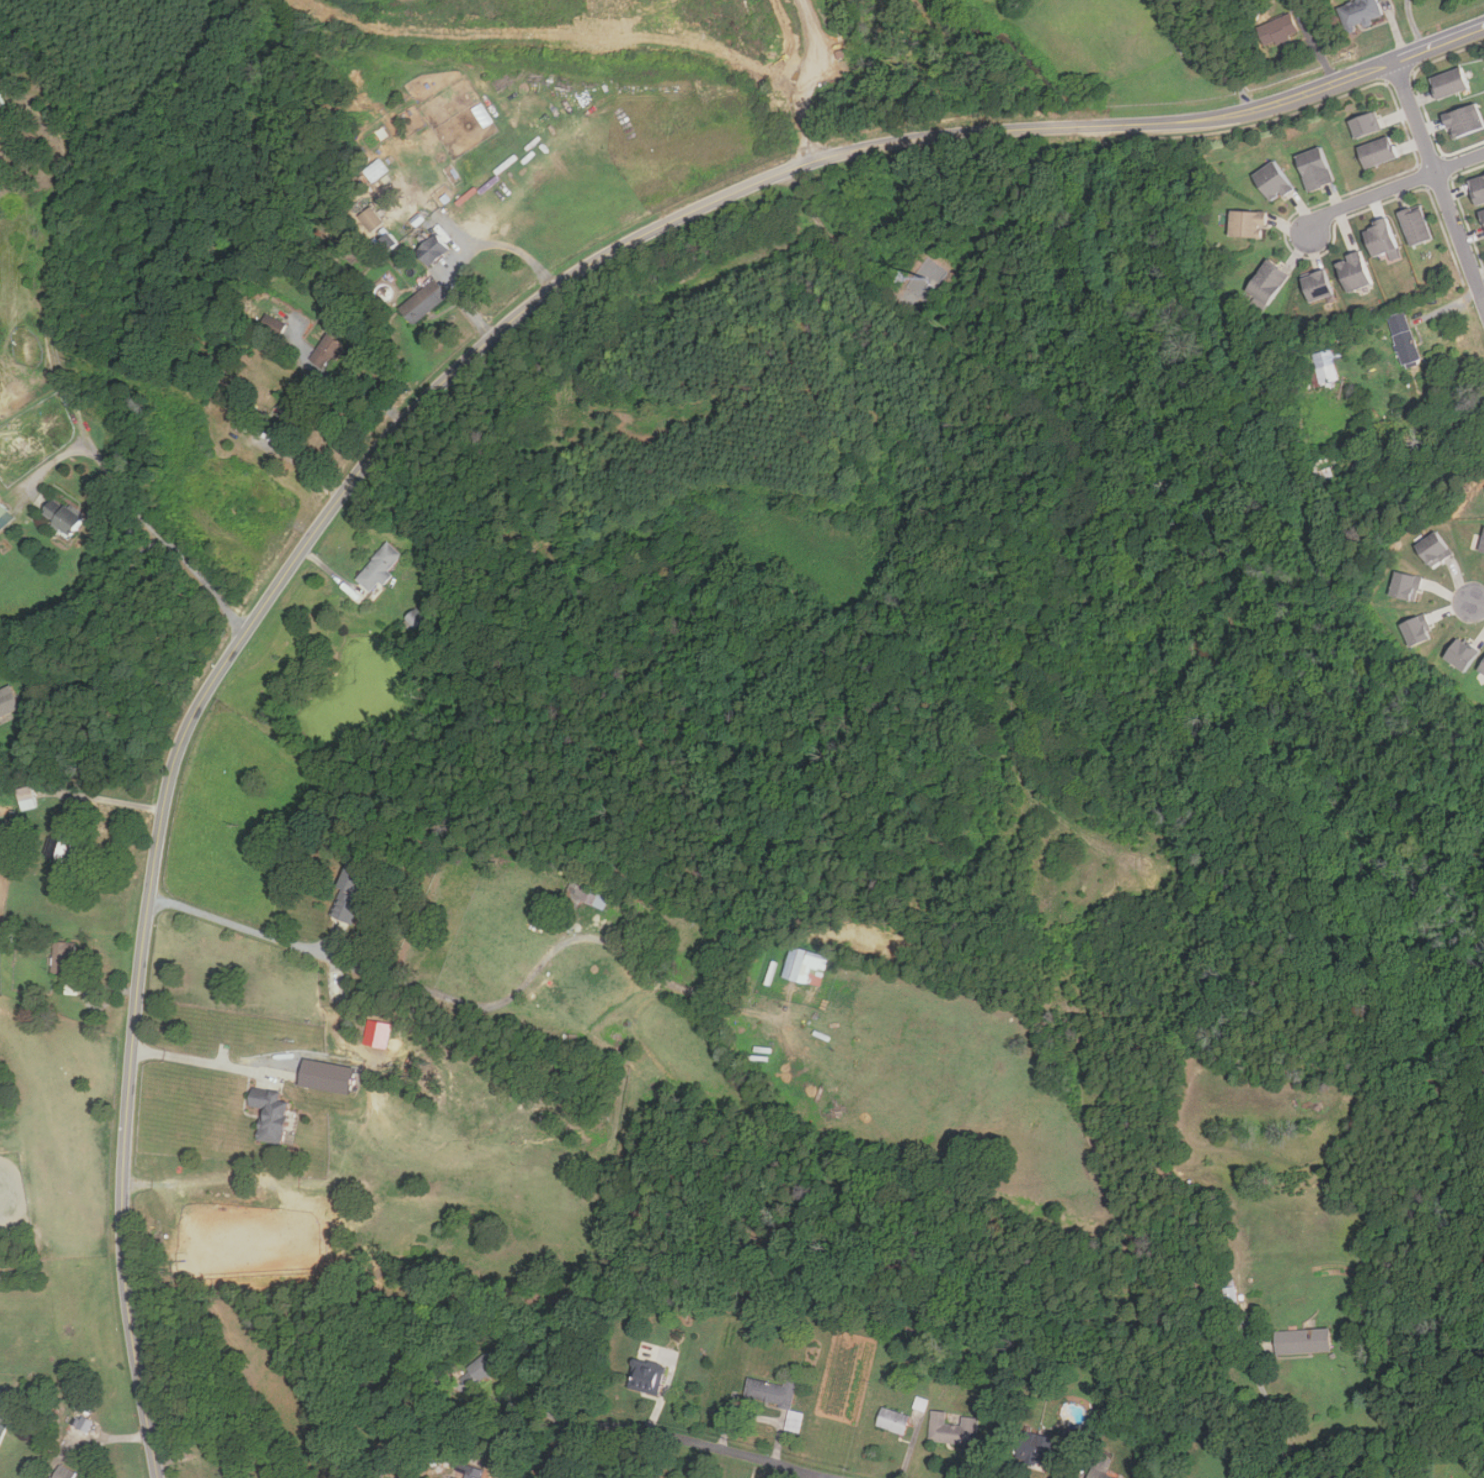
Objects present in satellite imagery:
building: (1360, 13)
building: (1278, 30)
road: (1196, 63)
building: (1449, 82)
building: (1, 102)
building: (1463, 120)
building: (1371, 125)
building: (1383, 153)
building: (1315, 168)
building: (1273, 181)
road: (1438, 181)
road: (1392, 188)
building: (1477, 188)
building: (1482, 214)
building: (370, 218)
building: (1247, 223)
building: (1415, 225)
building: (1379, 236)
building: (431, 248)
road: (471, 251)
building: (1354, 271)
building: (1267, 282)
building: (1317, 285)
building: (423, 301)
building: (273, 324)
building: (1403, 338)
building: (327, 351)
building: (1325, 367)
road: (61, 369)
road: (419, 405)
building: (283, 410)
building: (2, 509)
building: (61, 516)
building: (1482, 545)
building: (1433, 549)
building: (379, 567)
building: (1410, 586)
road: (1478, 603)
road: (103, 618)
building: (1421, 631)
building: (1467, 654)
building: (1483, 669)
building: (7, 701)
building: (27, 797)
road: (103, 797)
building: (63, 839)
building: (348, 894)
building: (582, 898)
road: (239, 921)
building: (62, 958)
building: (806, 967)
building: (377, 1034)
road: (212, 1064)
building: (328, 1076)
building: (268, 1114)
building: (1229, 1292)
building: (1302, 1341)
building: (480, 1369)
building: (645, 1377)
building: (772, 1391)
road: (519, 1404)
building: (4, 1416)
building: (892, 1420)
building: (82, 1426)
building: (953, 1430)
road: (681, 1439)
road: (91, 1442)
building: (1034, 1449)
road: (485, 1464)
building: (63, 1473)
building: (473, 1473)
road: (812, 1475)
building: (1101, 1475)
building: (389, 1477)
building: (455, 1477)
building: (1459, 1477)

